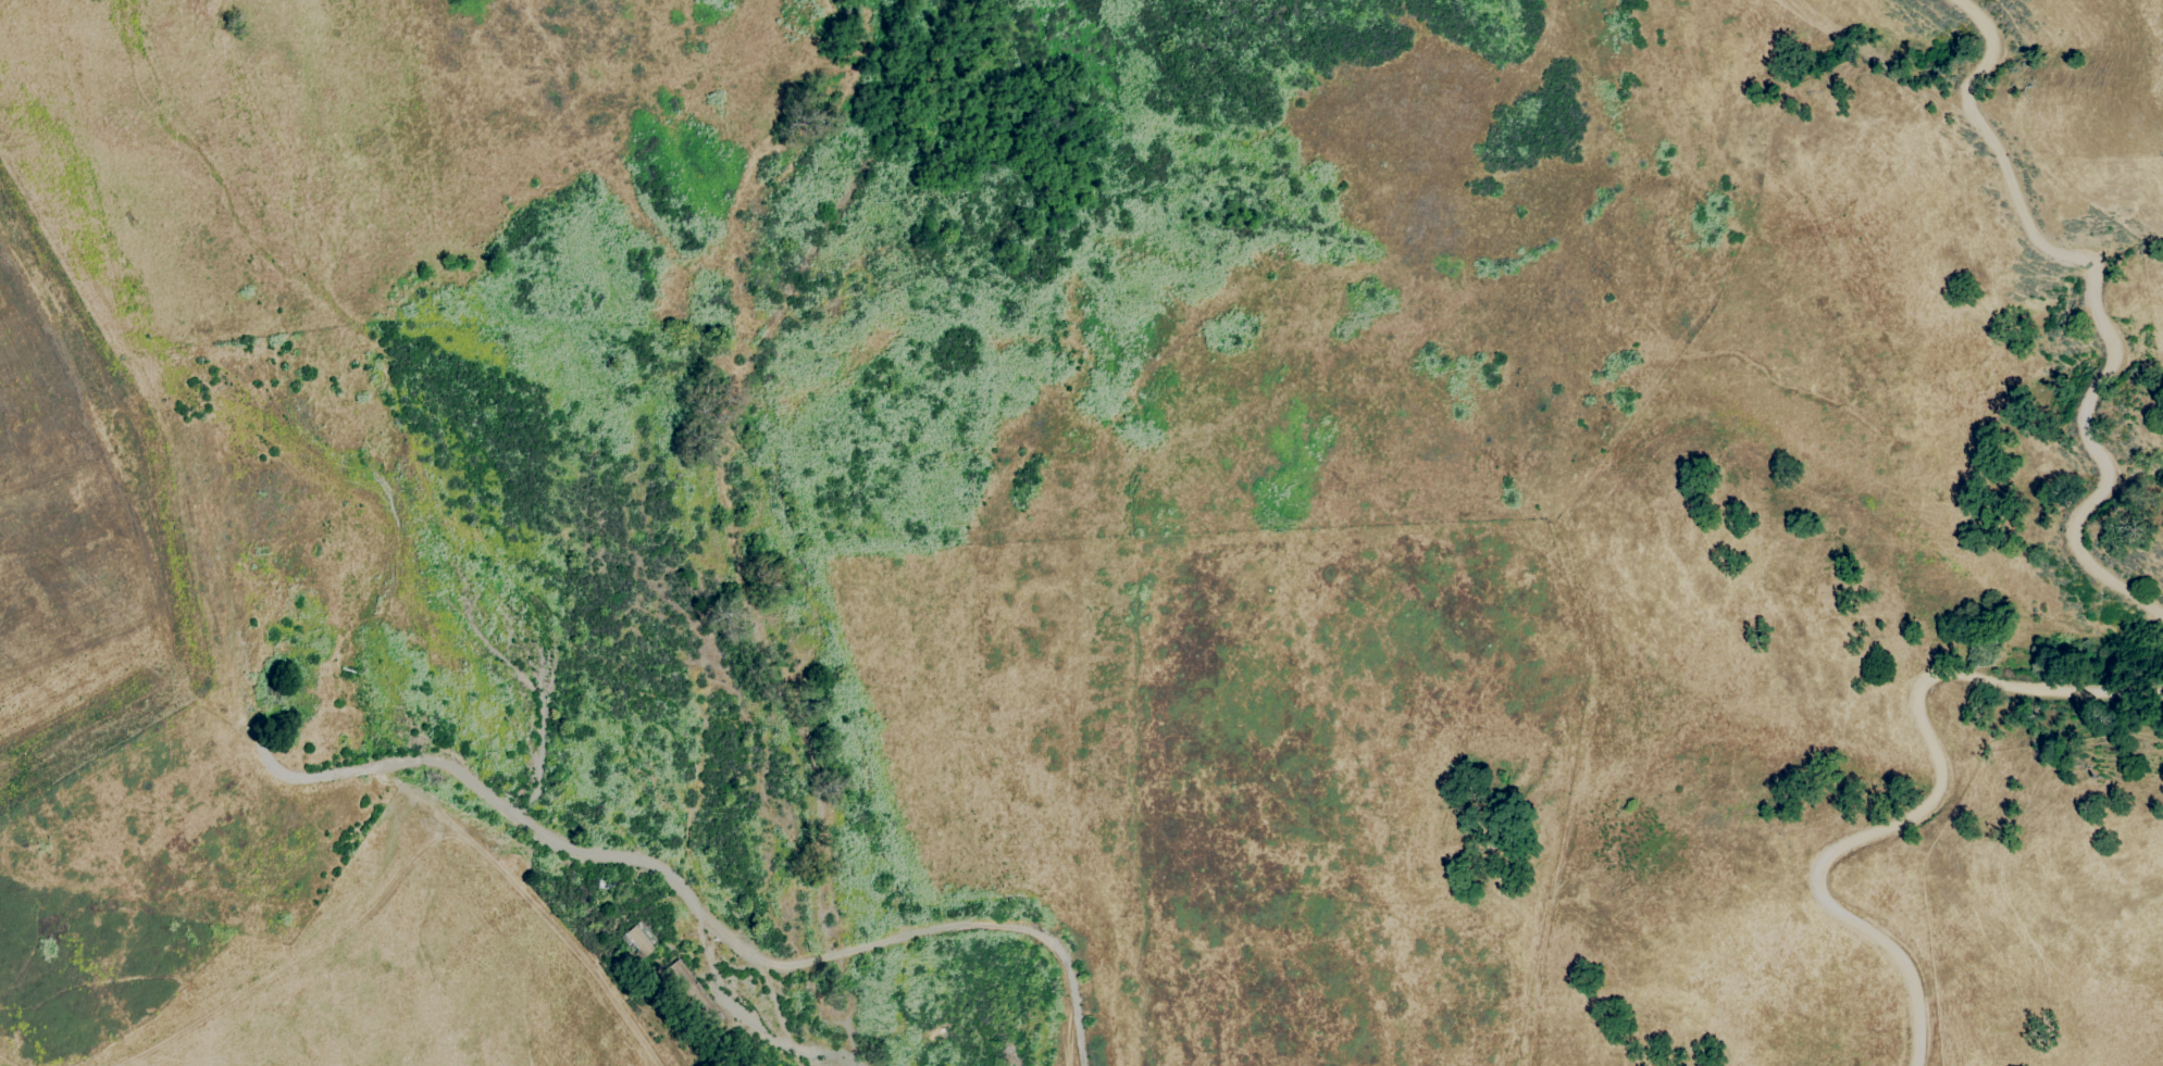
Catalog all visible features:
road: (2105, 306)
road: (1929, 801)
road: (701, 924)
road: (326, 946)

